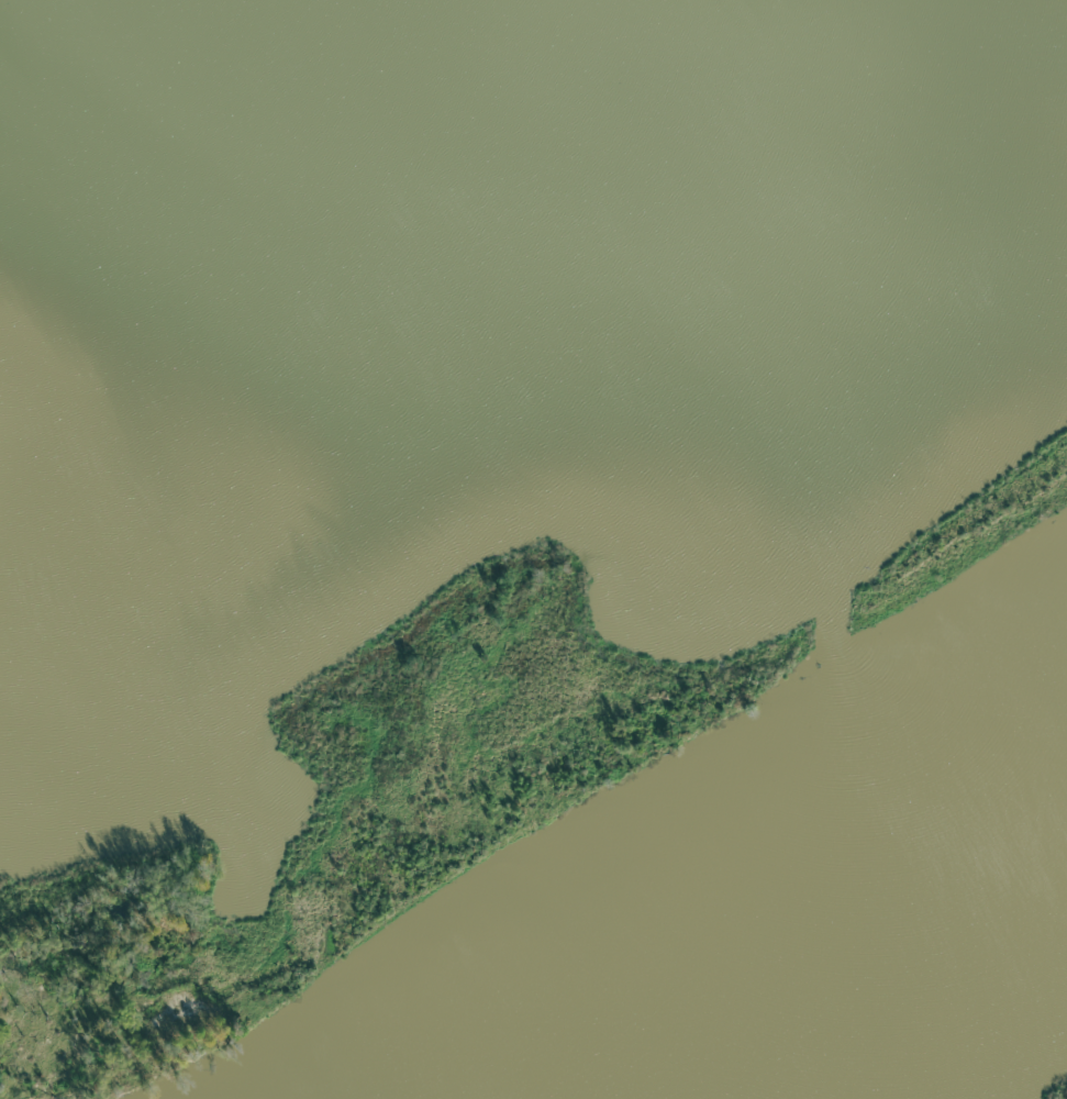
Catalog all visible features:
river: (830, 1020)

